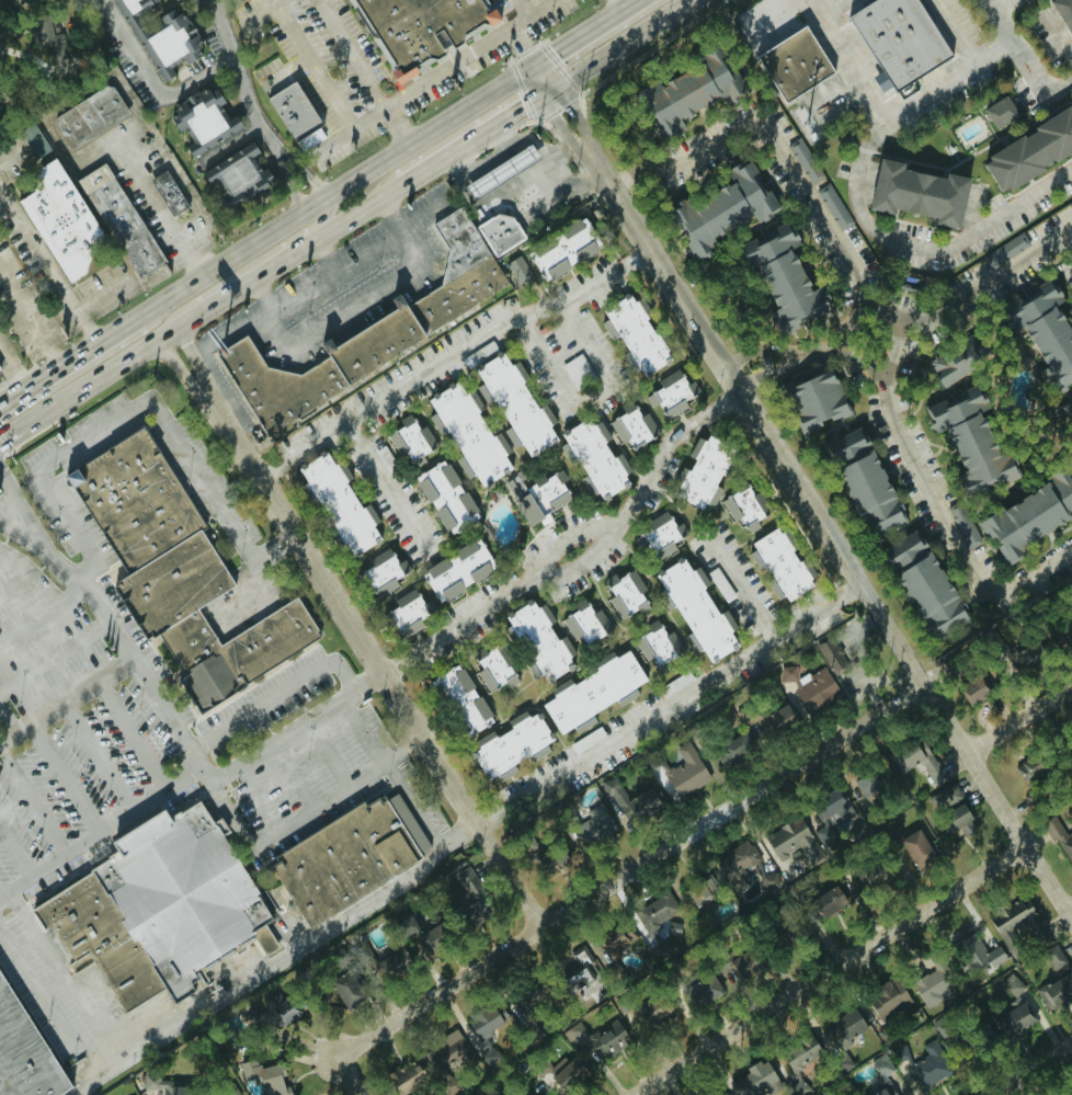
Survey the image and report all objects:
building: (167, 0)
building: (134, 4)
road: (618, 4)
road: (832, 7)
road: (546, 10)
building: (1062, 14)
building: (423, 27)
road: (589, 28)
building: (44, 33)
building: (893, 38)
road: (621, 41)
road: (523, 42)
traffic signals: (523, 42)
traffic signals: (558, 49)
road: (991, 50)
road: (1020, 56)
road: (536, 57)
road: (528, 61)
building: (786, 64)
road: (453, 67)
road: (238, 69)
road: (957, 71)
road: (151, 82)
building: (677, 89)
traffic signals: (567, 98)
traffic signals: (525, 102)
road: (570, 103)
road: (351, 109)
building: (292, 111)
road: (554, 113)
building: (994, 113)
building: (91, 116)
building: (202, 119)
road: (396, 127)
road: (478, 132)
road: (504, 135)
road: (271, 137)
building: (33, 140)
building: (1026, 144)
road: (21, 151)
road: (784, 153)
road: (558, 155)
road: (521, 159)
road: (465, 160)
building: (803, 161)
road: (301, 166)
building: (237, 173)
road: (286, 175)
road: (621, 179)
road: (487, 181)
building: (498, 182)
gas station: (498, 182)
road: (339, 187)
road: (559, 192)
building: (170, 193)
building: (910, 196)
road: (522, 199)
building: (833, 207)
road: (160, 208)
building: (720, 209)
road: (862, 216)
building: (60, 219)
building: (124, 221)
building: (502, 235)
road: (1068, 240)
road: (322, 247)
building: (566, 250)
building: (1005, 251)
road: (258, 259)
road: (48, 261)
road: (341, 264)
road: (638, 264)
building: (517, 271)
building: (783, 280)
road: (987, 281)
road: (372, 299)
road: (33, 310)
road: (199, 311)
road: (901, 329)
road: (235, 332)
building: (1045, 332)
building: (368, 334)
building: (635, 335)
road: (567, 345)
road: (829, 346)
road: (596, 353)
road: (451, 355)
road: (195, 358)
road: (768, 358)
road: (68, 361)
road: (555, 363)
building: (954, 363)
road: (14, 365)
road: (181, 368)
building: (671, 395)
building: (814, 400)
road: (140, 404)
road: (722, 404)
building: (516, 406)
building: (1068, 408)
building: (631, 426)
building: (468, 432)
building: (510, 437)
building: (410, 440)
building: (969, 440)
building: (595, 458)
road: (272, 466)
building: (463, 467)
building: (702, 472)
road: (384, 480)
building: (863, 482)
road: (12, 492)
building: (443, 494)
building: (537, 498)
building: (130, 499)
building: (340, 505)
building: (742, 507)
road: (10, 511)
building: (1030, 515)
road: (947, 522)
building: (960, 522)
road: (830, 535)
road: (573, 537)
building: (658, 537)
building: (779, 564)
road: (590, 570)
building: (457, 571)
building: (383, 572)
building: (168, 584)
building: (923, 585)
road: (754, 588)
building: (624, 594)
road: (849, 594)
building: (696, 611)
road: (43, 613)
building: (409, 614)
building: (584, 623)
road: (121, 635)
building: (1050, 637)
building: (539, 641)
building: (653, 645)
building: (229, 651)
building: (831, 657)
building: (1015, 657)
road: (374, 661)
road: (398, 661)
building: (493, 671)
building: (809, 687)
building: (974, 691)
road: (66, 692)
road: (277, 693)
building: (592, 693)
building: (463, 699)
road: (671, 706)
road: (5, 717)
road: (1019, 719)
building: (774, 721)
road: (294, 727)
road: (365, 728)
road: (127, 729)
building: (511, 745)
building: (733, 750)
road: (94, 751)
building: (917, 763)
building: (1029, 769)
road: (60, 772)
building: (686, 772)
road: (399, 782)
building: (867, 783)
building: (945, 798)
road: (30, 799)
building: (631, 800)
road: (300, 813)
building: (830, 817)
road: (492, 818)
building: (954, 819)
road: (100, 823)
road: (427, 826)
building: (594, 826)
building: (1060, 837)
building: (791, 840)
road: (13, 846)
building: (916, 849)
building: (547, 859)
building: (333, 863)
building: (744, 867)
road: (630, 870)
building: (868, 876)
building: (702, 893)
building: (466, 894)
building: (151, 899)
building: (828, 902)
building: (655, 912)
road: (1070, 913)
building: (1018, 924)
building: (423, 935)
building: (609, 947)
building: (981, 953)
road: (278, 960)
building: (1056, 960)
building: (391, 965)
building: (742, 965)
road: (62, 970)
road: (831, 970)
building: (581, 982)
building: (931, 986)
building: (345, 989)
building: (699, 990)
building: (1054, 994)
building: (531, 996)
building: (890, 1001)
road: (49, 1003)
building: (1012, 1008)
building: (653, 1013)
building: (271, 1019)
building: (487, 1020)
building: (847, 1026)
building: (984, 1037)
building: (606, 1039)
building: (447, 1052)
building: (21, 1053)
building: (800, 1054)
building: (880, 1067)
building: (930, 1069)
road: (1030, 1069)
road: (350, 1075)
building: (569, 1075)
building: (270, 1079)
building: (406, 1079)
building: (756, 1079)
building: (166, 1086)
building: (229, 1091)
building: (885, 1091)
building: (1067, 1093)

